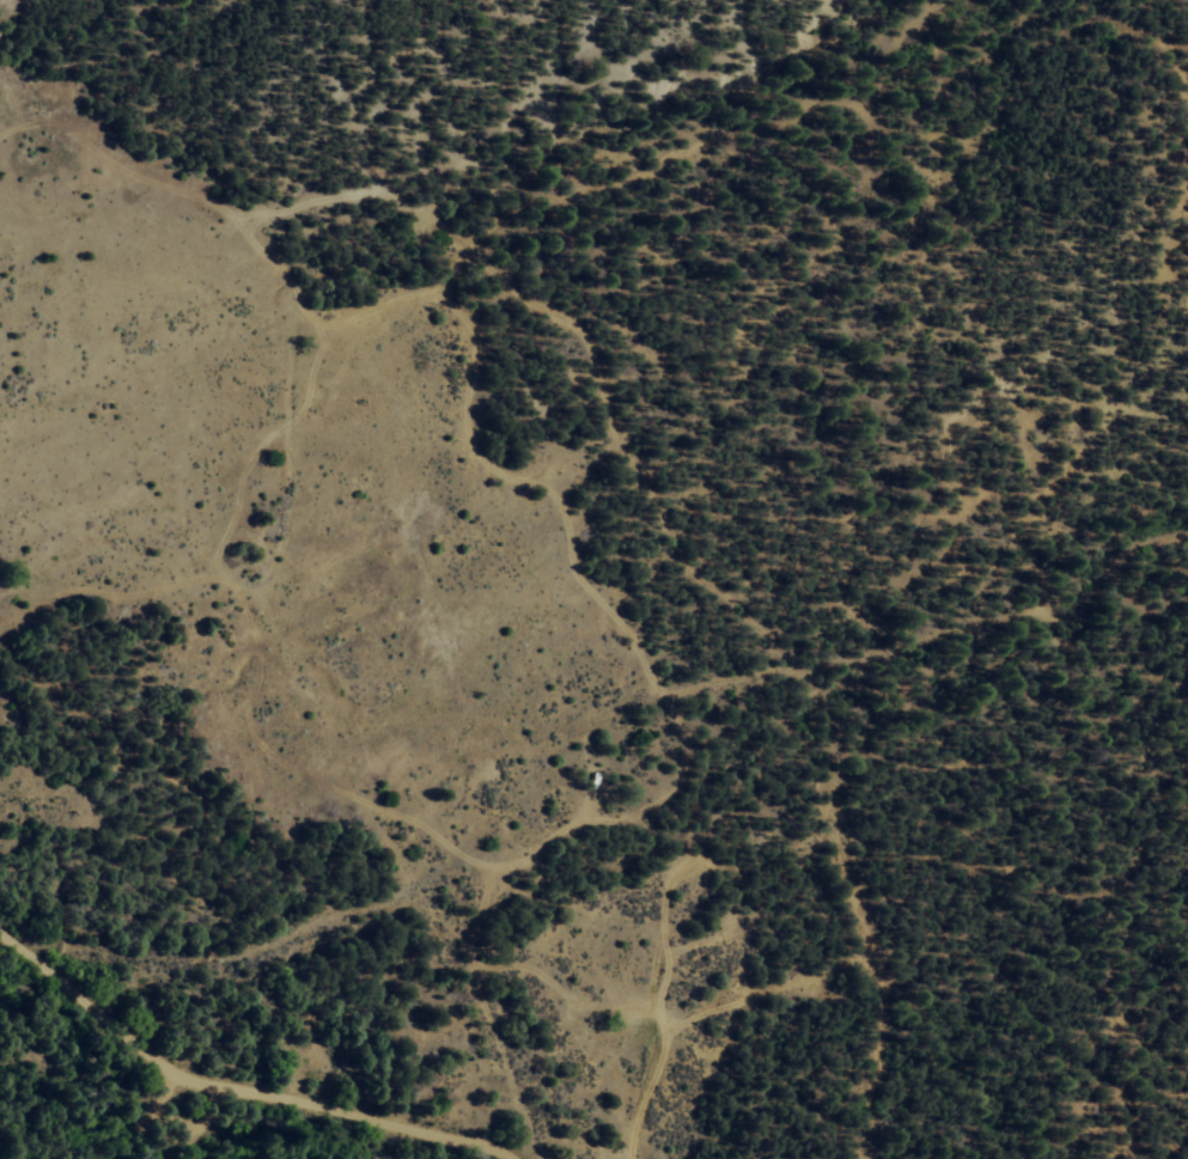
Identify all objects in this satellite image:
road: (233, 1091)

